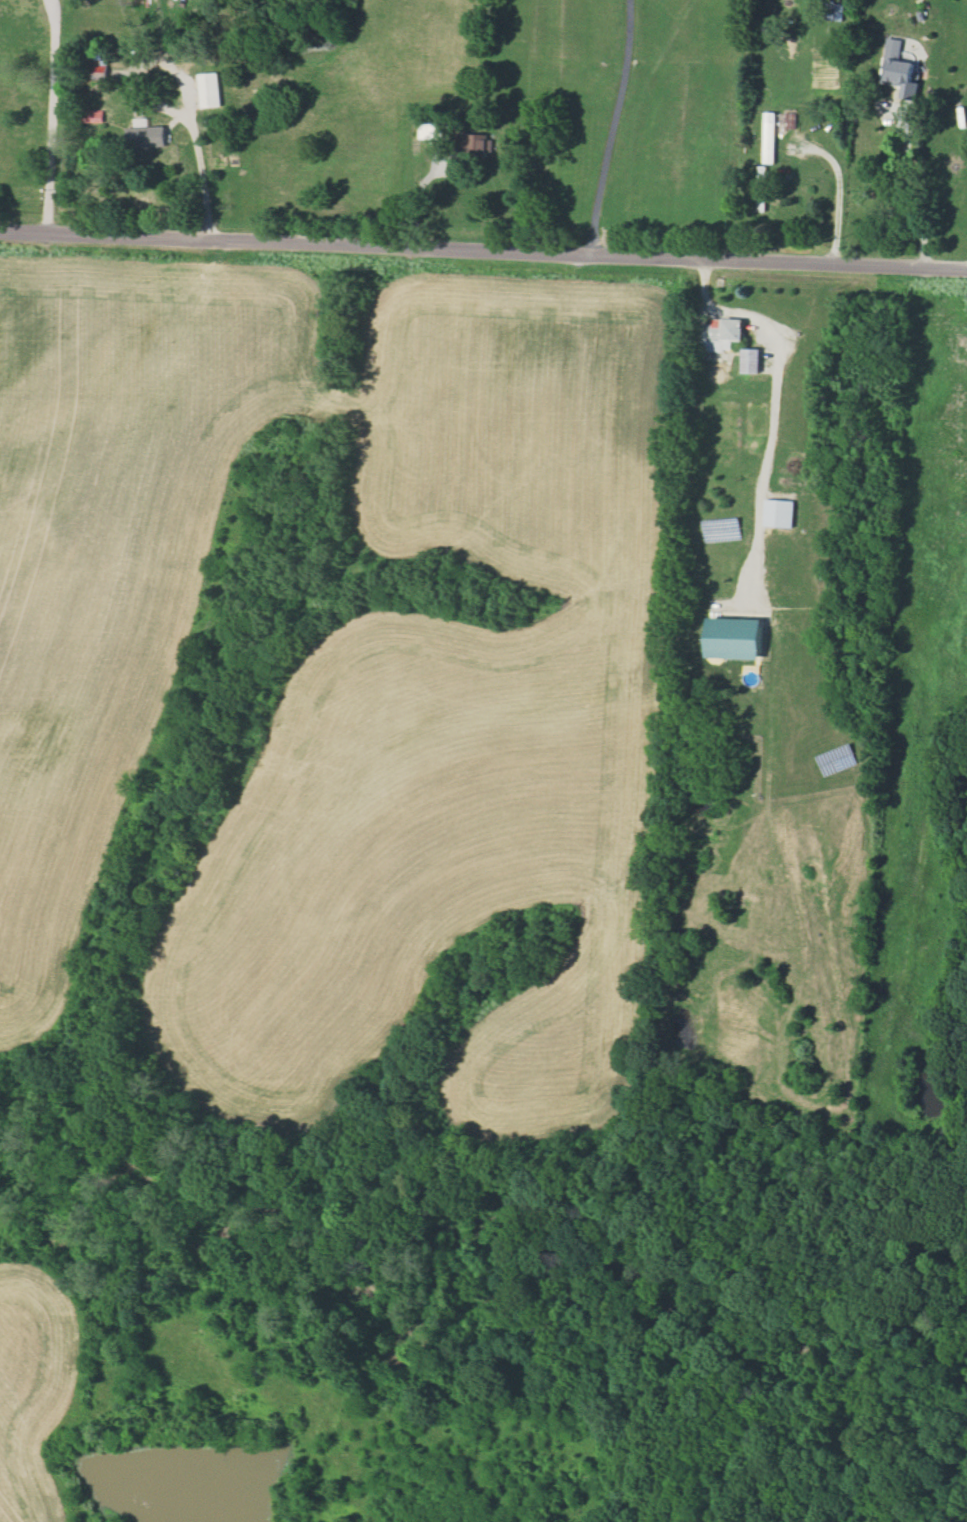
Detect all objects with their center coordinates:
building: (98, 66)
building: (899, 70)
building: (210, 90)
crop: (21, 104)
road: (56, 112)
building: (95, 115)
crop: (349, 117)
road: (608, 124)
building: (431, 130)
building: (145, 136)
building: (769, 136)
building: (478, 144)
road: (197, 146)
road: (905, 185)
road: (837, 187)
road: (414, 194)
road: (483, 247)
building: (721, 333)
building: (750, 360)
road: (769, 403)
building: (778, 513)
crop: (110, 551)
building: (733, 638)
crop: (450, 738)
crop: (921, 740)
crop: (34, 1385)

